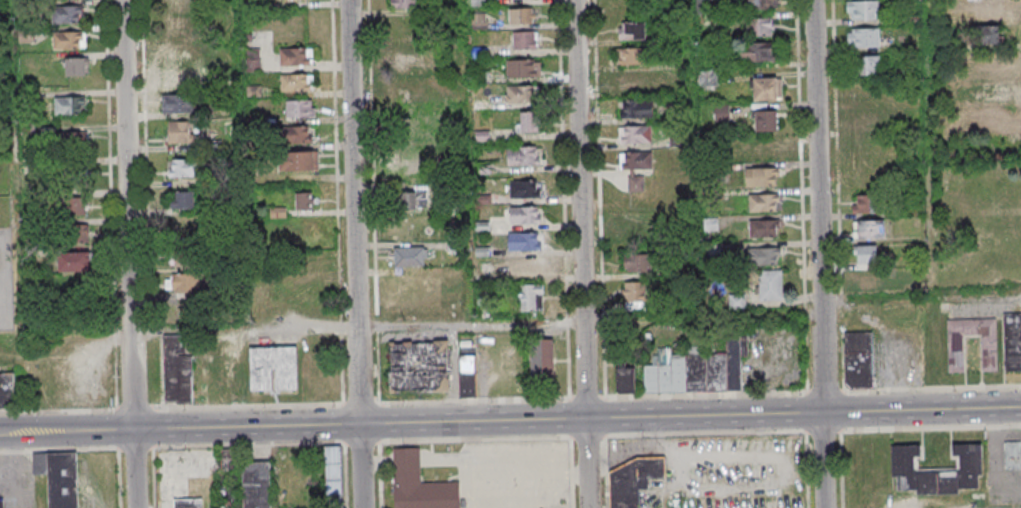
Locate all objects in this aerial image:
building: (402, 4)
building: (763, 4)
building: (171, 6)
building: (863, 9)
building: (991, 10)
building: (67, 14)
building: (522, 15)
building: (177, 26)
building: (759, 27)
building: (634, 30)
building: (987, 35)
building: (863, 37)
building: (525, 39)
building: (69, 40)
building: (757, 51)
building: (295, 56)
building: (631, 56)
building: (253, 60)
building: (403, 62)
building: (869, 64)
building: (988, 64)
building: (75, 66)
building: (522, 68)
building: (177, 77)
building: (296, 82)
building: (634, 82)
building: (767, 89)
building: (521, 93)
building: (986, 94)
building: (177, 103)
building: (69, 105)
building: (300, 109)
building: (634, 109)
building: (406, 118)
building: (984, 118)
building: (765, 120)
building: (863, 121)
building: (529, 122)
building: (180, 132)
building: (298, 135)
building: (635, 135)
building: (71, 142)
building: (760, 150)
building: (522, 155)
building: (299, 160)
building: (636, 161)
building: (183, 168)
building: (761, 175)
building: (635, 183)
building: (524, 189)
road: (563, 199)
building: (184, 200)
building: (304, 200)
building: (409, 200)
building: (73, 201)
road: (373, 201)
building: (762, 201)
building: (867, 204)
building: (522, 214)
building: (638, 224)
building: (763, 228)
building: (184, 229)
building: (868, 229)
building: (75, 233)
building: (524, 241)
road: (127, 254)
road: (354, 254)
road: (580, 254)
road: (819, 254)
building: (866, 254)
building: (766, 255)
building: (410, 256)
building: (180, 259)
building: (75, 262)
building: (636, 262)
building: (527, 266)
building: (413, 281)
parking lot: (5, 282)
building: (866, 283)
building: (183, 285)
building: (770, 285)
building: (74, 292)
building: (634, 295)
building: (531, 297)
building: (412, 307)
road: (588, 322)
road: (297, 328)
building: (1012, 342)
building: (989, 353)
building: (541, 358)
building: (859, 360)
building: (418, 366)
building: (274, 370)
building: (699, 370)
building: (177, 372)
road: (454, 373)
building: (467, 376)
building: (626, 378)
building: (7, 391)
road: (510, 400)
road: (577, 419)
road: (66, 431)
road: (689, 436)
road: (302, 444)
building: (1012, 455)
building: (195, 464)
building: (936, 471)
building: (60, 477)
building: (631, 481)
building: (420, 484)
building: (256, 485)
building: (1, 503)
building: (188, 504)

